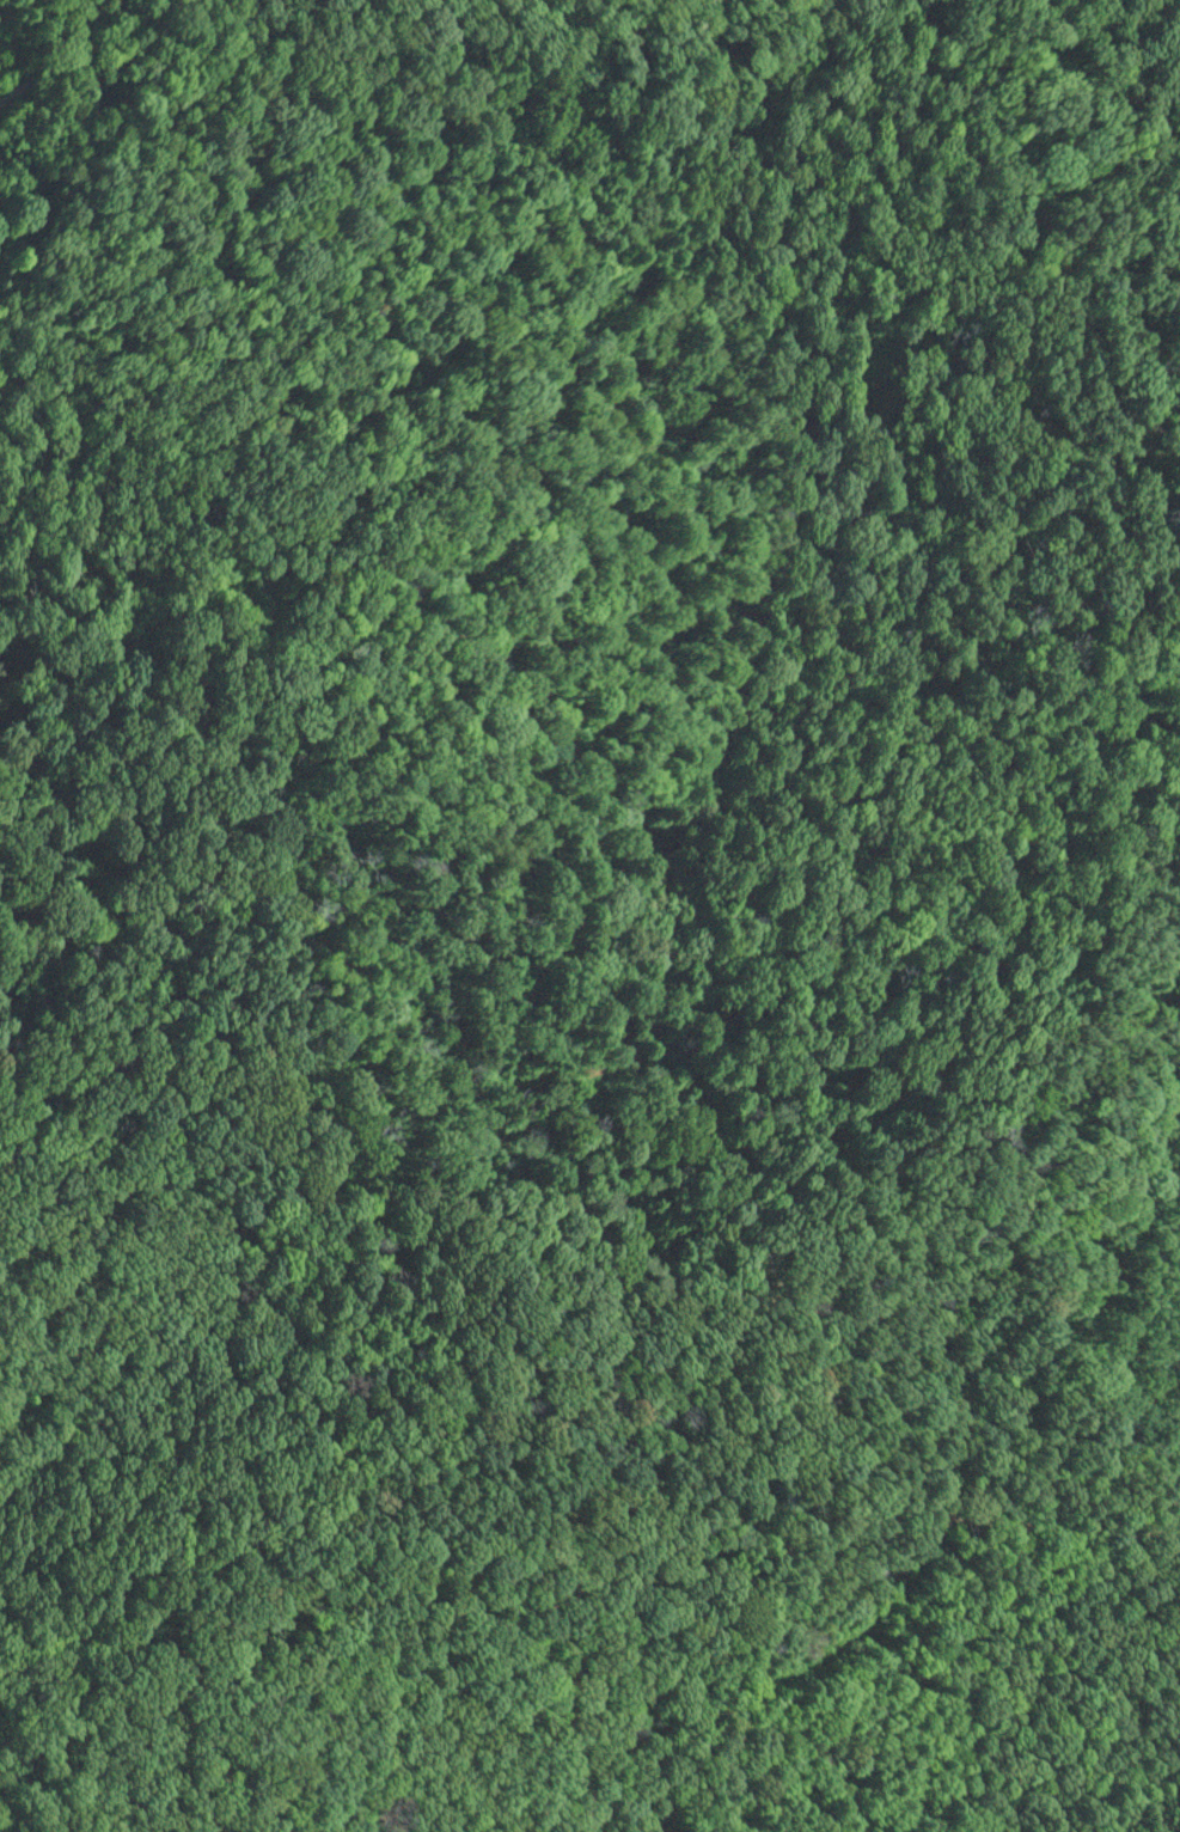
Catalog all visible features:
road: (843, 1623)

